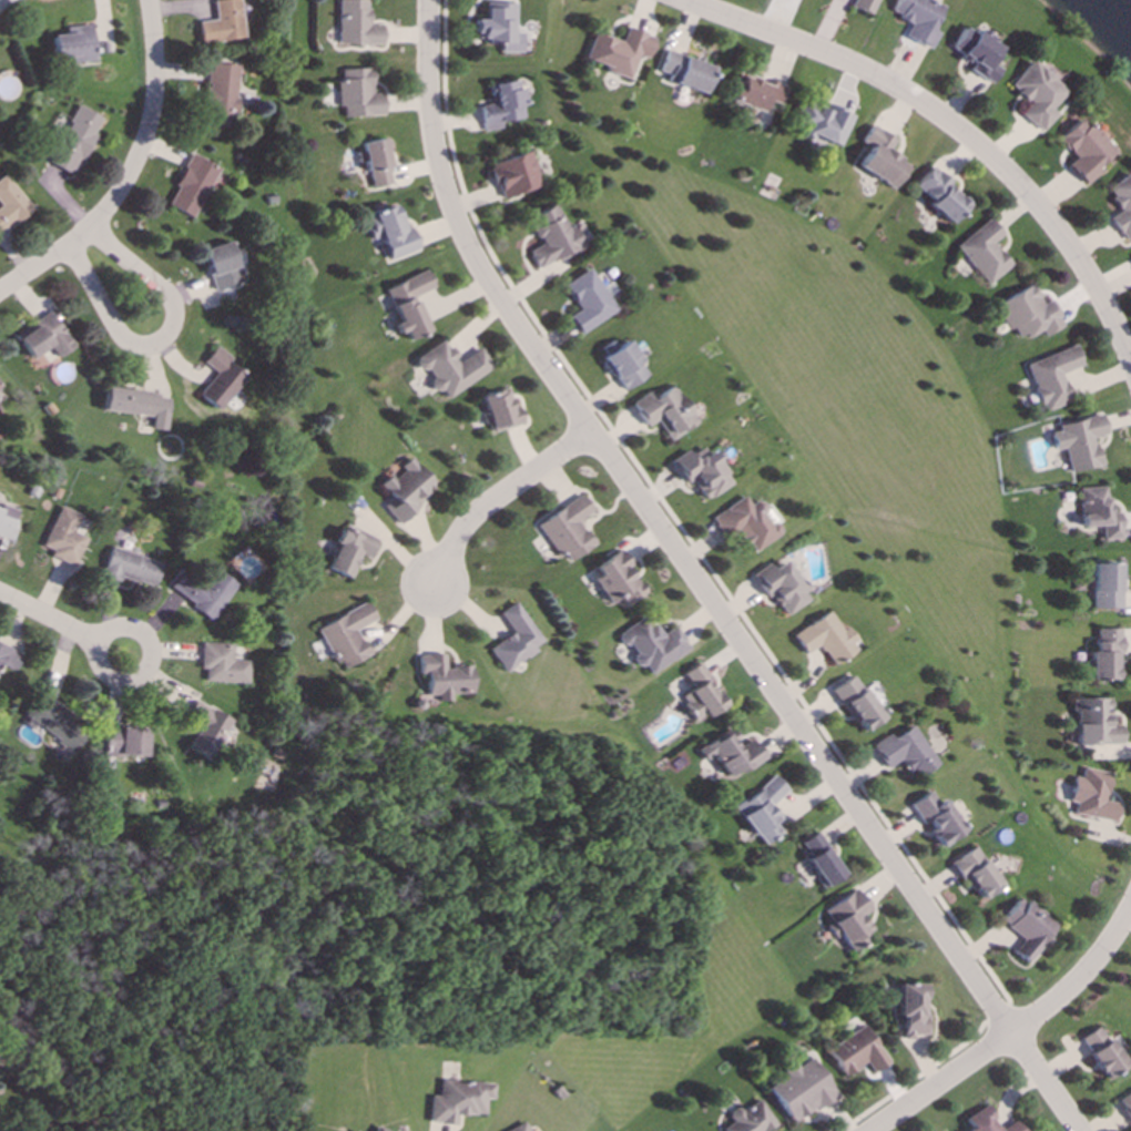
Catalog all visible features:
building: (863, 6)
building: (917, 20)
building: (222, 22)
building: (355, 24)
building: (499, 27)
building: (74, 44)
building: (619, 51)
building: (976, 53)
building: (685, 71)
building: (358, 93)
building: (755, 93)
building: (1037, 94)
building: (221, 95)
building: (503, 105)
building: (822, 123)
road: (951, 124)
building: (75, 140)
building: (1084, 150)
building: (882, 159)
building: (376, 163)
road: (129, 173)
building: (516, 174)
building: (192, 186)
building: (941, 195)
building: (10, 204)
building: (1122, 206)
building: (391, 232)
building: (552, 236)
building: (985, 252)
building: (222, 266)
building: (589, 300)
building: (410, 304)
building: (1029, 314)
building: (42, 337)
road: (162, 340)
building: (625, 366)
building: (452, 368)
building: (1053, 377)
building: (221, 379)
building: (137, 405)
building: (501, 410)
building: (665, 411)
building: (1080, 441)
park: (863, 458)
building: (702, 471)
building: (407, 490)
road: (503, 495)
building: (1099, 512)
building: (7, 521)
building: (746, 523)
building: (568, 529)
road: (669, 536)
building: (63, 537)
building: (349, 552)
building: (130, 567)
building: (618, 580)
building: (1107, 585)
building: (782, 588)
building: (202, 591)
road: (48, 619)
building: (346, 635)
building: (514, 639)
building: (826, 639)
building: (651, 644)
building: (1105, 655)
building: (9, 659)
building: (221, 664)
road: (142, 673)
building: (442, 677)
building: (699, 694)
building: (856, 703)
building: (1094, 723)
building: (53, 724)
building: (203, 728)
building: (123, 741)
building: (905, 751)
building: (730, 753)
building: (1092, 795)
building: (760, 811)
building: (937, 818)
building: (819, 859)
building: (976, 872)
building: (848, 919)
building: (1027, 928)
road: (1080, 975)
building: (913, 1009)
building: (856, 1052)
building: (1102, 1052)
road: (1046, 1081)
road: (941, 1082)
building: (801, 1090)
building: (458, 1101)
building: (1125, 1104)
building: (748, 1119)
building: (988, 1122)
building: (518, 1128)
building: (377, 1129)

